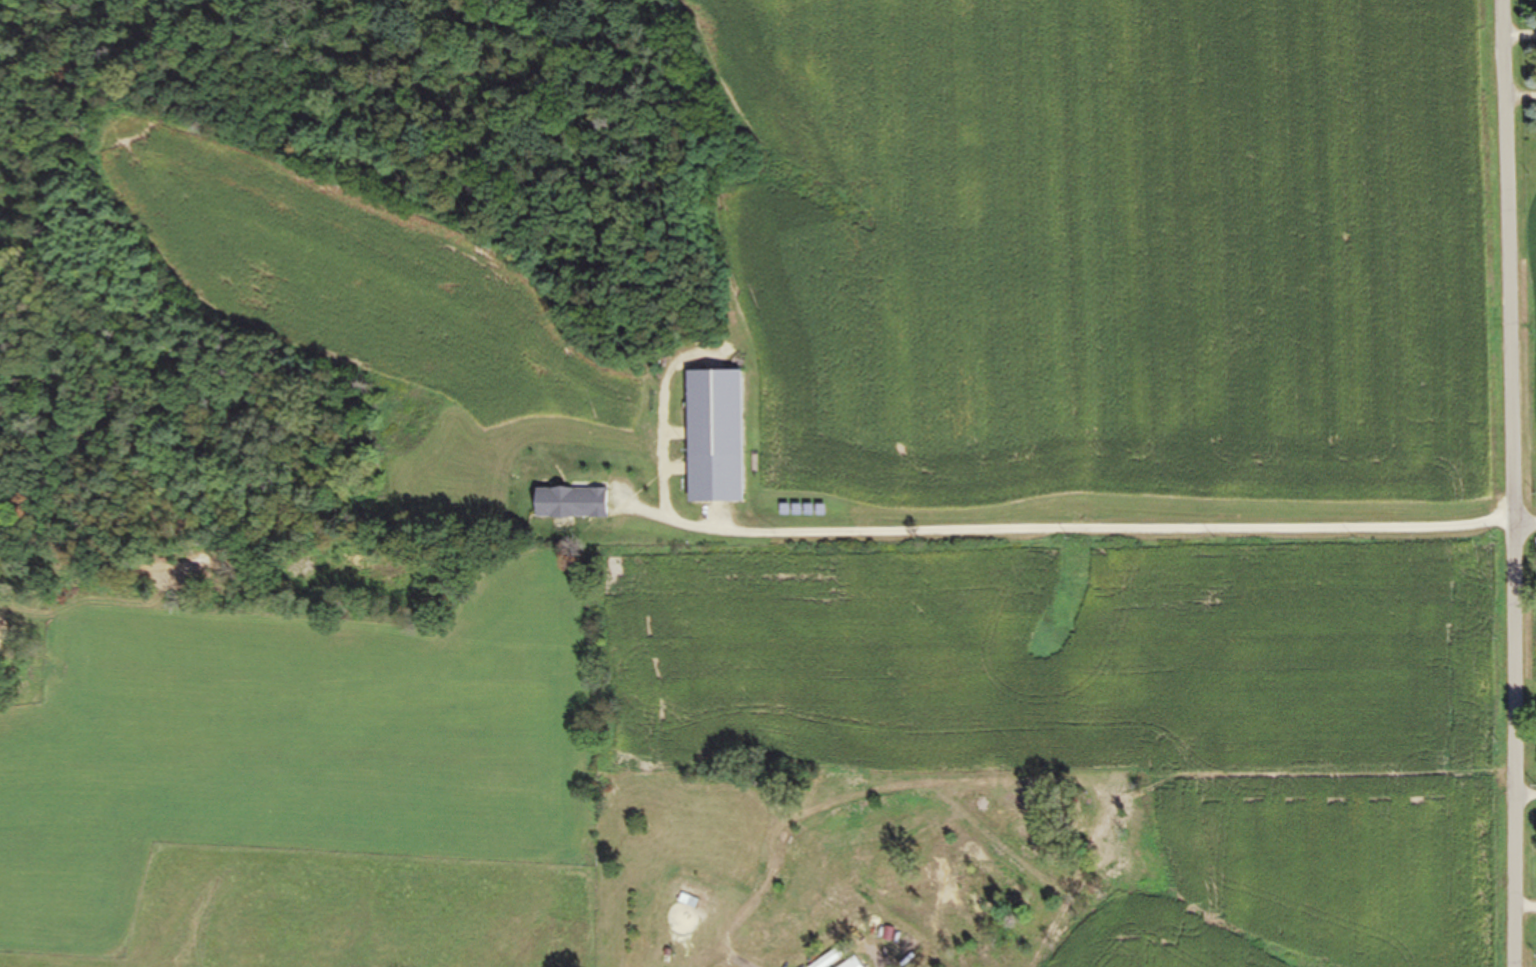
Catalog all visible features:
road: (1511, 483)
road: (1062, 528)
road: (1524, 533)
building: (687, 901)
building: (831, 957)
building: (851, 963)
road: (740, 966)

